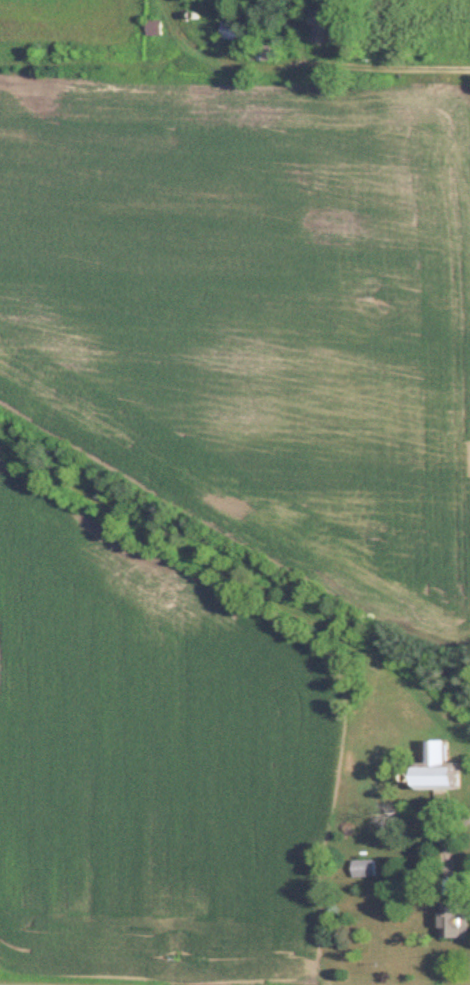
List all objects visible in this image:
building: (156, 27)
building: (234, 30)
building: (264, 53)
building: (436, 770)
road: (450, 847)
building: (365, 868)
building: (455, 923)

